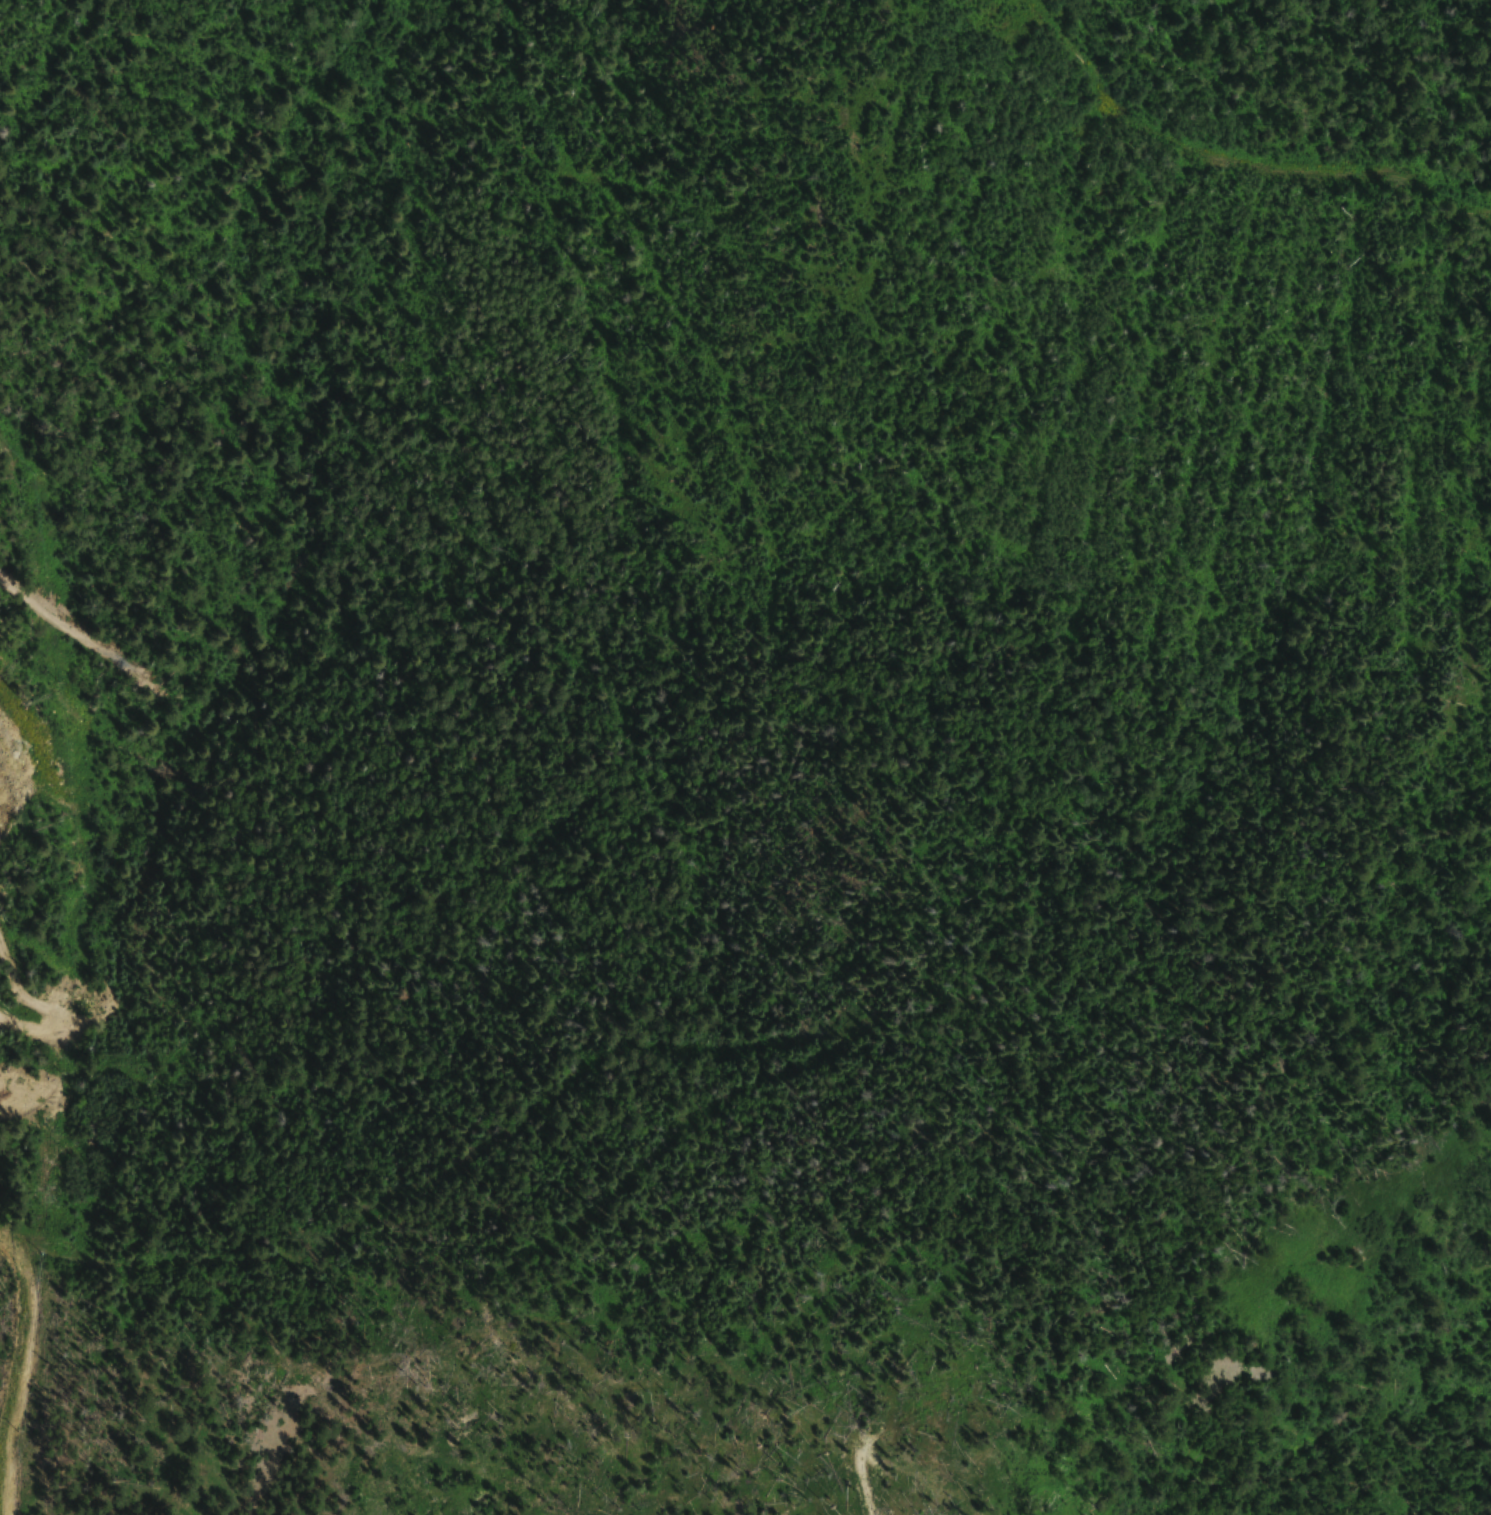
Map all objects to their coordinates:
quarry: (32, 957)

